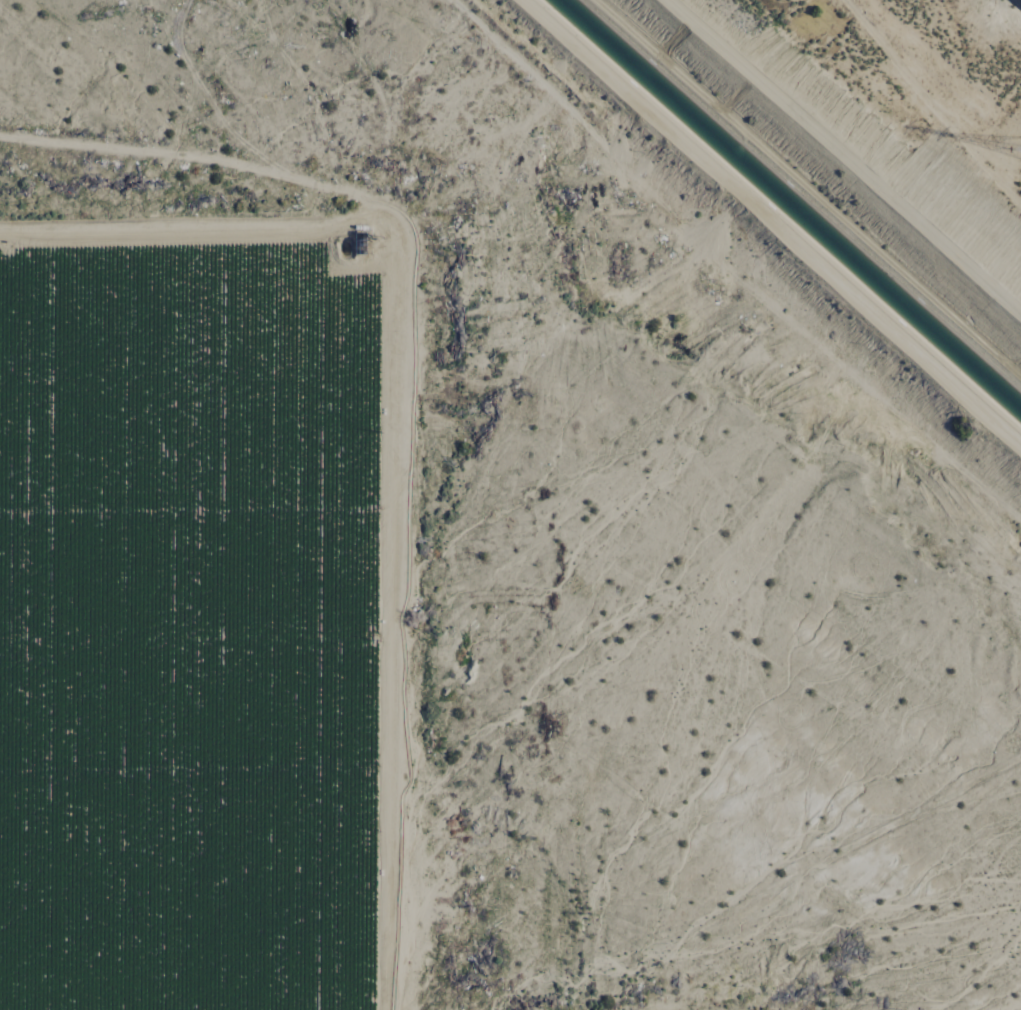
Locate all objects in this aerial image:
power tower: (1014, 140)

